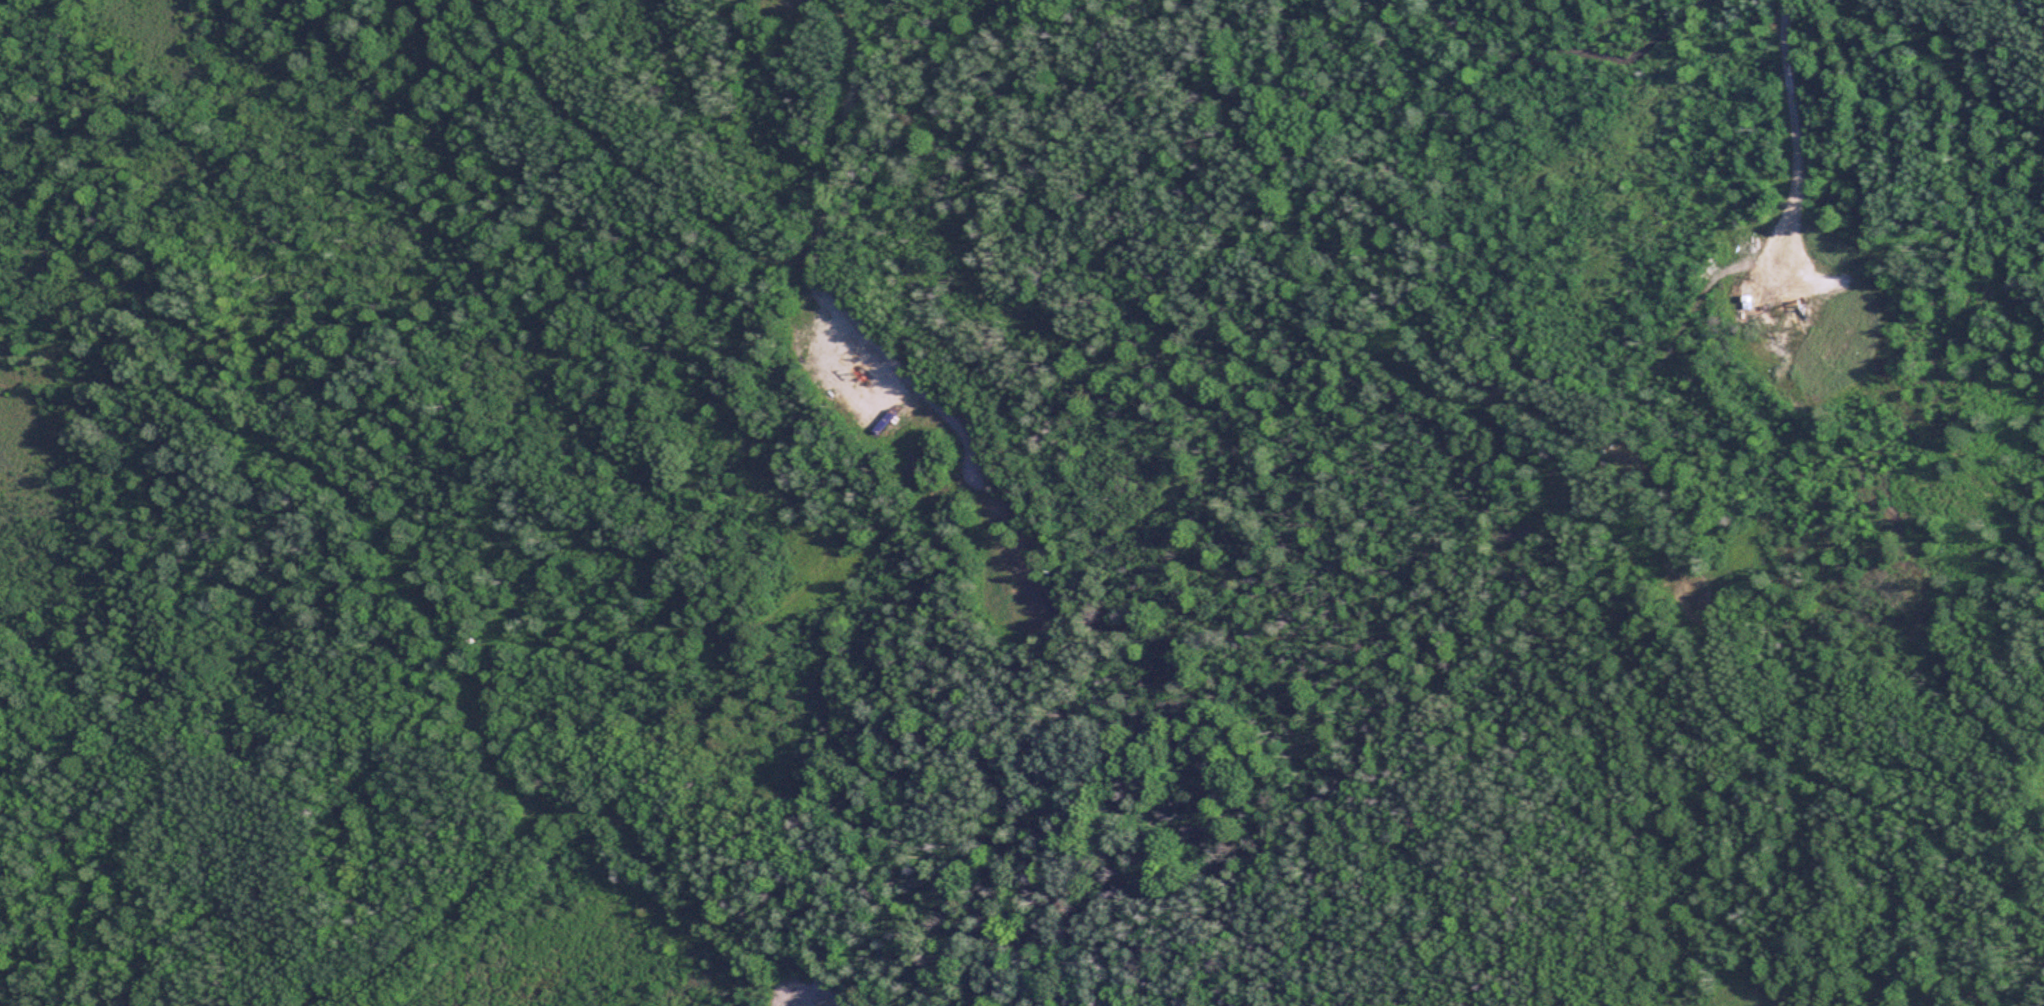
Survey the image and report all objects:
road: (2022, 12)
road: (1782, 238)
petroleum well: (1797, 303)
road: (559, 812)

